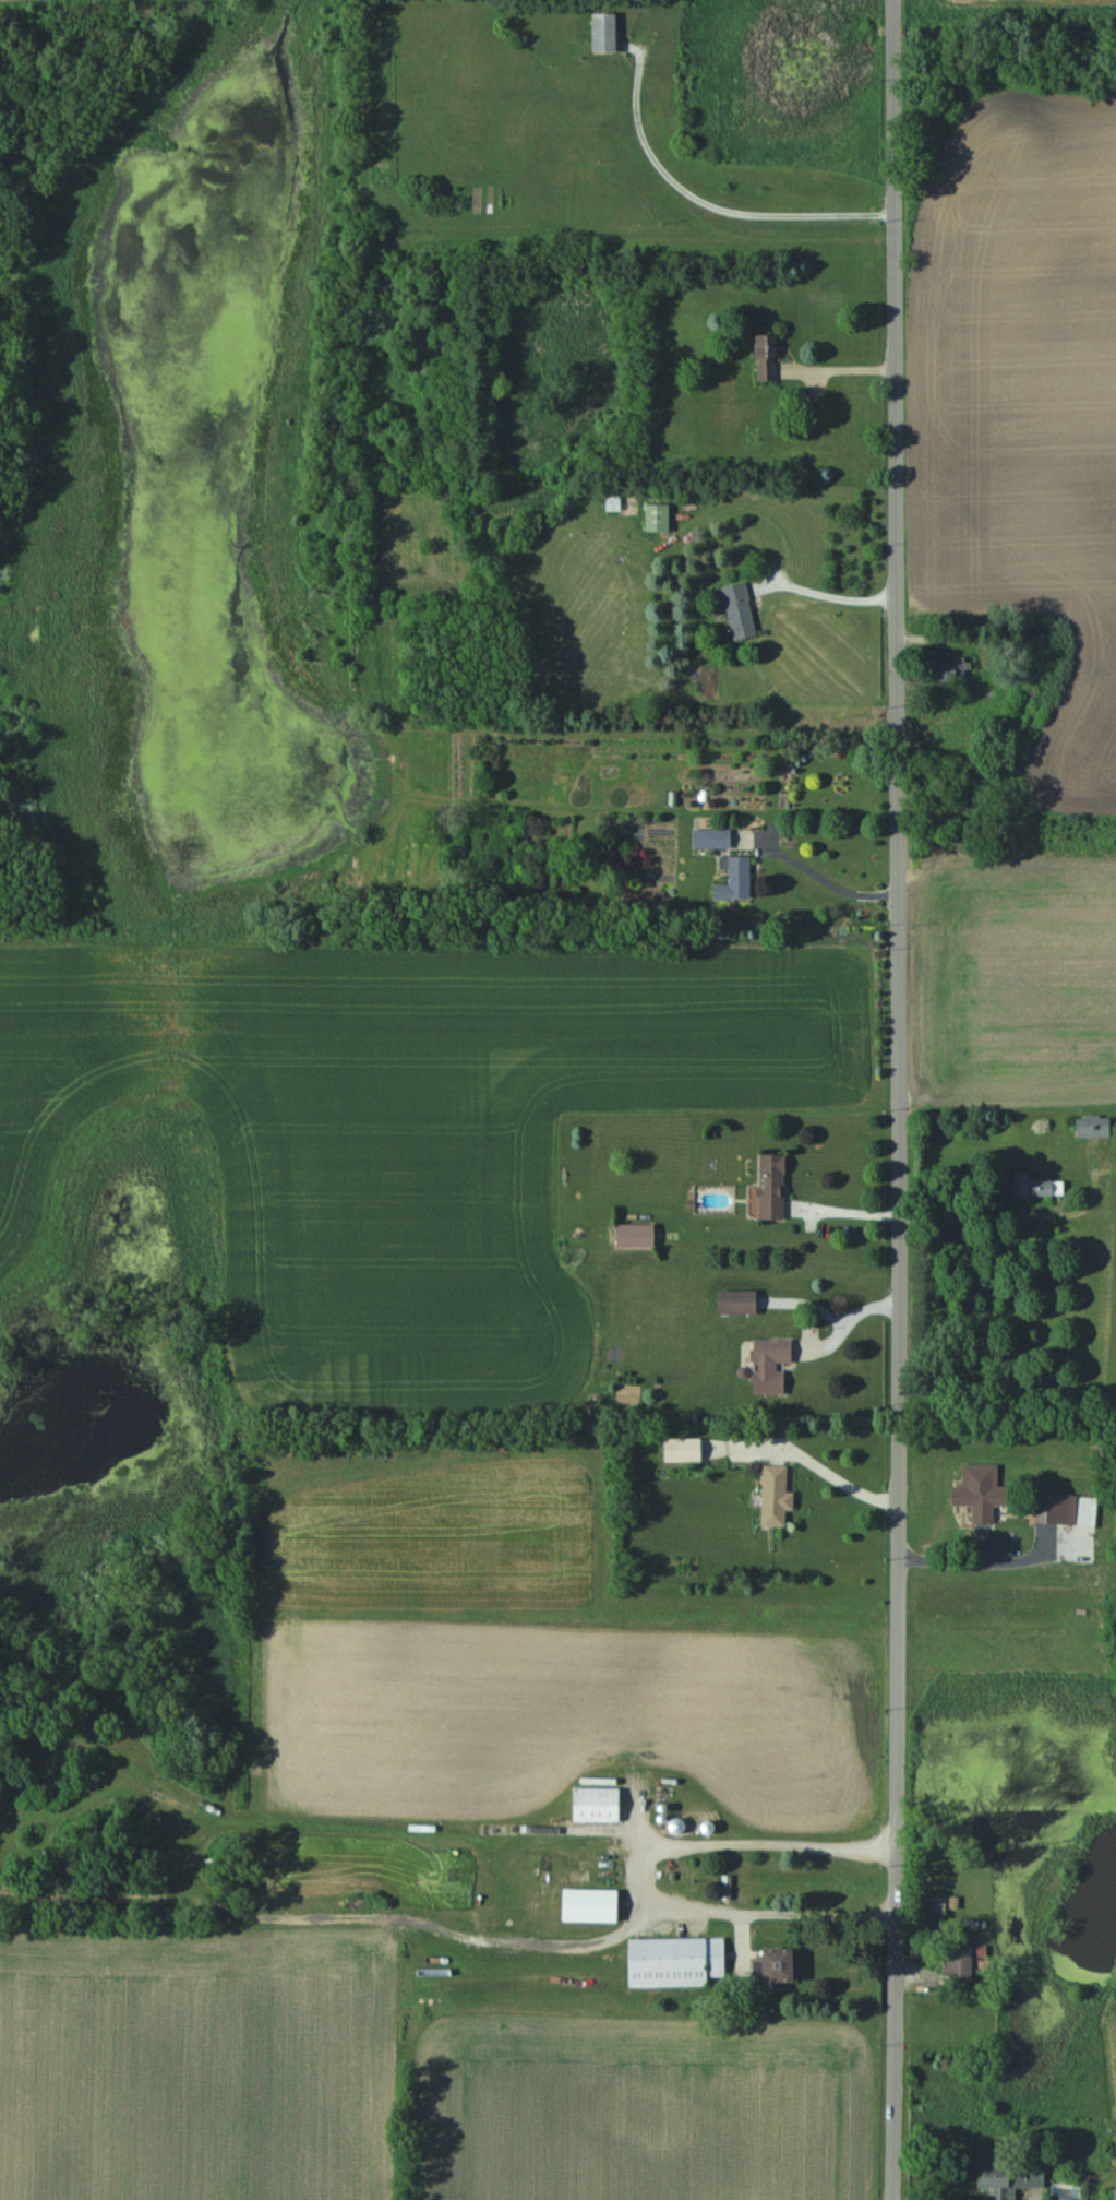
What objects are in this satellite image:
building: (597, 32)
road: (713, 207)
building: (759, 354)
road: (837, 369)
building: (653, 515)
road: (827, 585)
building: (734, 609)
building: (957, 669)
building: (708, 836)
building: (731, 877)
road: (829, 877)
road: (898, 1099)
building: (1090, 1125)
building: (765, 1185)
building: (1033, 1186)
road: (842, 1211)
building: (627, 1234)
building: (730, 1300)
road: (831, 1303)
building: (764, 1364)
building: (675, 1447)
road: (812, 1460)
building: (975, 1490)
building: (769, 1494)
building: (1043, 1507)
road: (979, 1551)
building: (588, 1804)
road: (644, 1863)
building: (581, 1905)
building: (668, 1961)
building: (767, 1965)
building: (952, 1965)
building: (1006, 2178)
building: (1109, 2193)

